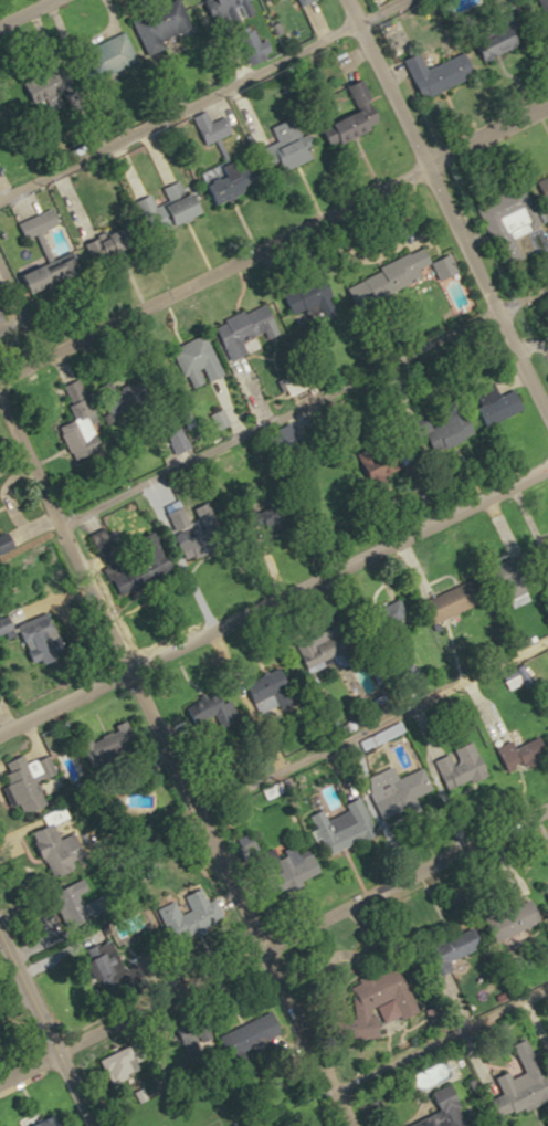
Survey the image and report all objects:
building: (305, 1)
building: (239, 4)
road: (23, 11)
building: (491, 46)
building: (115, 56)
building: (432, 73)
building: (357, 116)
building: (212, 127)
building: (291, 146)
building: (233, 179)
building: (542, 190)
building: (175, 208)
road: (443, 217)
building: (505, 221)
building: (41, 222)
road: (274, 235)
building: (118, 239)
building: (446, 267)
building: (50, 275)
building: (323, 299)
building: (1, 317)
building: (245, 330)
building: (200, 361)
building: (547, 368)
road: (308, 404)
building: (503, 408)
building: (80, 429)
building: (457, 432)
building: (368, 457)
building: (201, 538)
building: (545, 550)
building: (110, 554)
building: (159, 557)
road: (274, 599)
building: (456, 600)
building: (398, 612)
building: (46, 641)
building: (335, 656)
building: (273, 698)
road: (373, 725)
road: (170, 749)
building: (509, 755)
building: (461, 765)
building: (28, 781)
building: (338, 825)
building: (63, 851)
building: (292, 866)
building: (544, 894)
building: (78, 901)
building: (504, 919)
road: (273, 941)
building: (444, 954)
building: (368, 1003)
road: (45, 1032)
road: (435, 1034)
building: (230, 1039)
building: (115, 1065)
building: (513, 1090)
building: (436, 1109)

